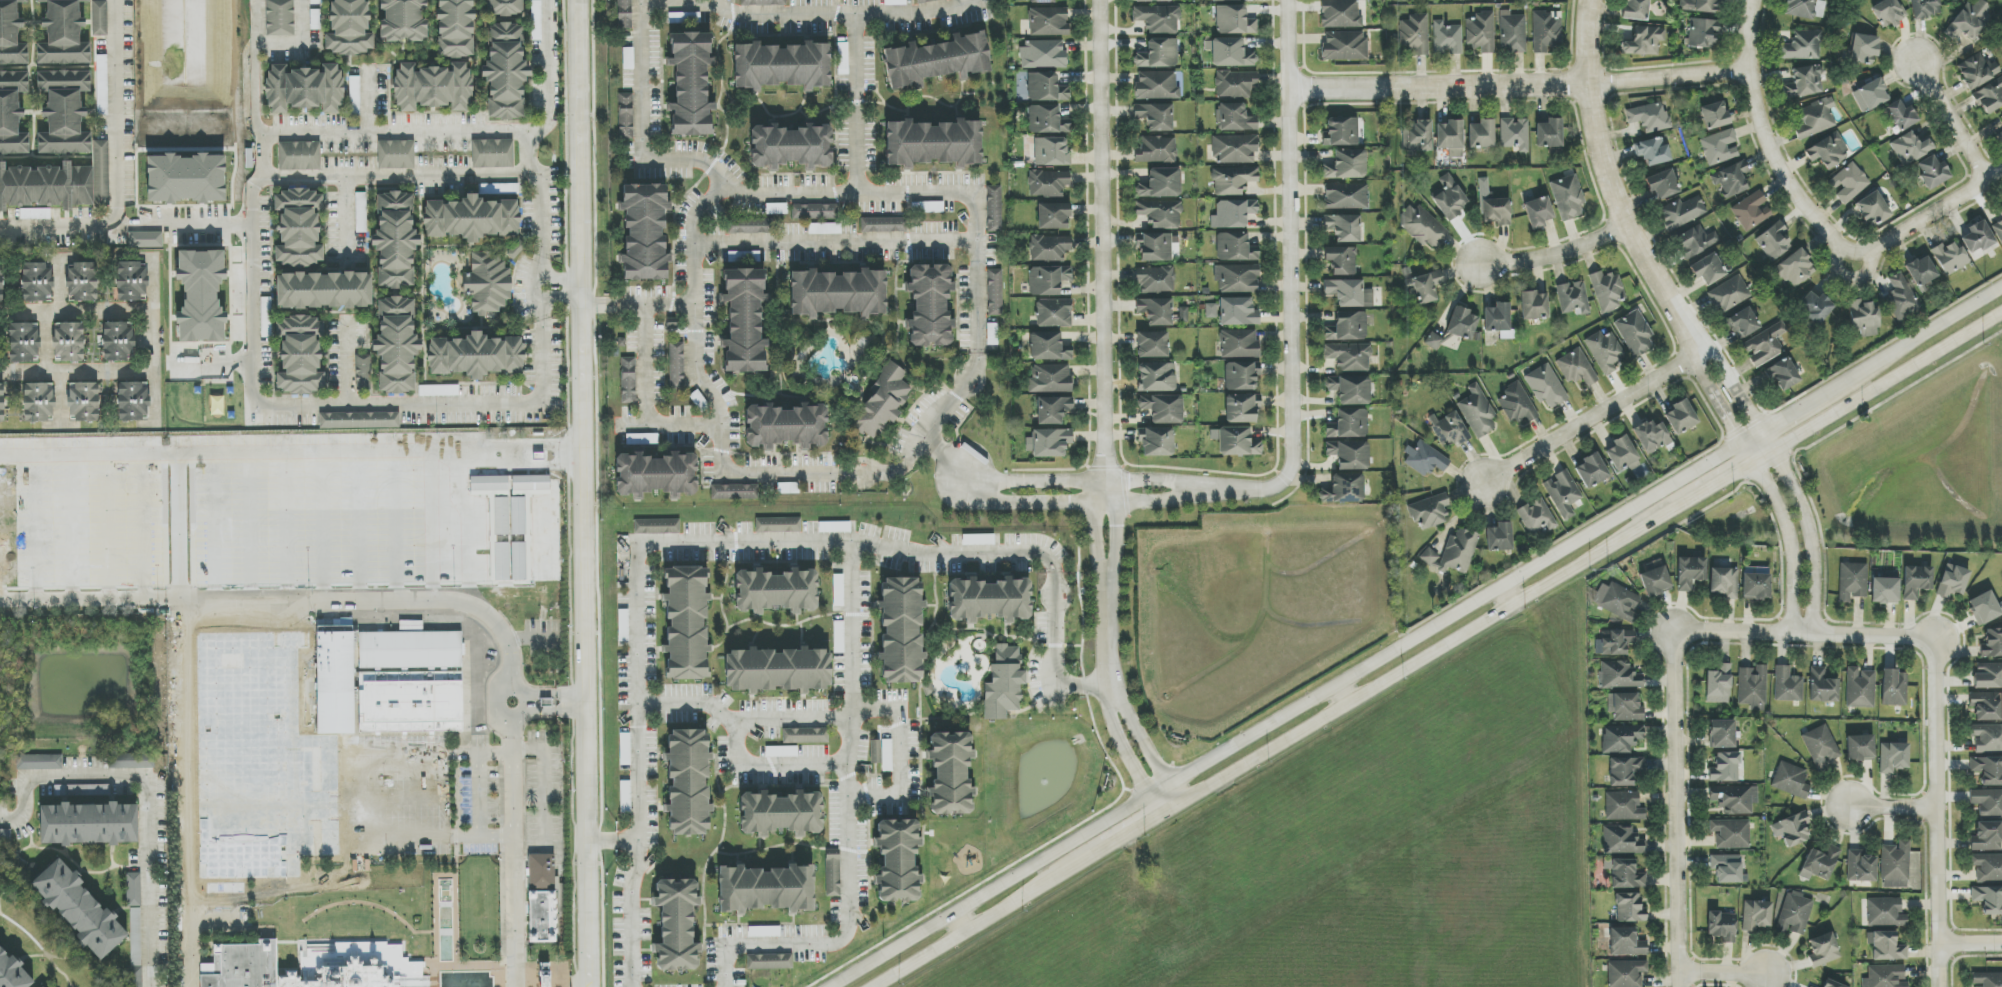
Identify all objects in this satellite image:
building: (1150, 0)
building: (1219, 0)
building: (929, 1)
building: (1042, 1)
building: (895, 2)
building: (763, 3)
building: (1699, 5)
building: (504, 7)
building: (1804, 8)
building: (1925, 8)
building: (1635, 9)
building: (1888, 13)
building: (624, 14)
building: (1340, 14)
road: (838, 16)
building: (99, 18)
building: (280, 18)
building: (683, 18)
building: (1158, 18)
building: (315, 19)
building: (1049, 19)
building: (402, 20)
building: (536, 20)
building: (1234, 20)
building: (1969, 21)
building: (348, 28)
building: (454, 28)
building: (1546, 30)
building: (1480, 33)
building: (1512, 33)
building: (1703, 33)
building: (11, 34)
building: (63, 34)
building: (1415, 34)
building: (1447, 39)
building: (1644, 41)
road: (299, 43)
building: (1802, 46)
building: (1344, 47)
building: (1863, 49)
building: (1044, 53)
building: (1230, 53)
building: (1158, 54)
building: (938, 56)
building: (781, 66)
building: (1976, 71)
building: (505, 72)
building: (1804, 82)
building: (690, 84)
building: (1235, 84)
building: (102, 85)
building: (1045, 85)
building: (1156, 86)
road: (1519, 86)
building: (433, 87)
building: (304, 89)
building: (355, 95)
building: (1870, 95)
building: (1989, 96)
road: (368, 104)
road: (857, 106)
building: (64, 112)
building: (12, 113)
road: (116, 113)
building: (1714, 115)
building: (1901, 115)
road: (1951, 115)
building: (625, 116)
building: (1155, 116)
building: (1045, 117)
building: (1649, 117)
building: (2001, 117)
building: (1235, 118)
building: (1815, 118)
road: (543, 128)
building: (1341, 132)
road: (1764, 132)
building: (1481, 134)
building: (1514, 135)
building: (1550, 135)
road: (331, 136)
building: (1417, 136)
building: (1999, 137)
building: (1451, 138)
building: (933, 139)
building: (790, 147)
building: (1719, 147)
building: (1911, 148)
building: (1234, 149)
building: (1156, 150)
building: (1652, 151)
building: (1827, 151)
building: (1051, 152)
building: (299, 154)
building: (493, 154)
building: (396, 155)
road: (259, 158)
building: (1346, 165)
building: (101, 172)
building: (1932, 172)
building: (1731, 179)
building: (1233, 180)
building: (1048, 183)
building: (1848, 183)
building: (1161, 184)
building: (1662, 184)
building: (46, 186)
building: (508, 189)
road: (955, 196)
building: (1346, 196)
building: (1568, 197)
building: (1449, 198)
road: (1612, 198)
building: (1493, 207)
building: (776, 209)
building: (994, 209)
building: (1872, 209)
building: (1751, 211)
building: (361, 212)
building: (815, 212)
building: (1160, 213)
building: (1233, 213)
building: (1538, 213)
building: (1682, 213)
building: (35, 214)
building: (1053, 216)
building: (471, 218)
road: (347, 221)
building: (298, 225)
building: (883, 225)
road: (125, 226)
building: (750, 226)
building: (1422, 226)
road: (1916, 226)
building: (1998, 226)
building: (1343, 228)
building: (824, 229)
building: (644, 233)
building: (1977, 237)
building: (395, 240)
road: (1290, 241)
building: (1696, 241)
building: (1773, 241)
road: (837, 244)
building: (1154, 247)
building: (1235, 247)
building: (1049, 248)
road: (1554, 254)
building: (743, 257)
building: (1950, 257)
building: (1341, 260)
building: (1707, 269)
building: (1794, 269)
building: (1920, 271)
road: (559, 277)
building: (130, 278)
building: (1236, 278)
building: (1047, 280)
building: (1155, 280)
building: (37, 282)
building: (82, 282)
building: (1, 284)
building: (487, 284)
road: (537, 285)
building: (1427, 286)
building: (324, 287)
building: (1608, 290)
building: (837, 293)
building: (995, 293)
building: (1348, 293)
building: (1729, 294)
building: (1901, 297)
road: (559, 298)
building: (1573, 298)
building: (929, 305)
building: (1534, 305)
road: (637, 307)
building: (1815, 307)
road: (76, 310)
building: (1156, 311)
building: (1233, 312)
building: (1054, 313)
building: (266, 317)
building: (1497, 318)
building: (1863, 318)
building: (744, 321)
road: (694, 323)
building: (1463, 323)
building: (1743, 323)
building: (1349, 327)
building: (1634, 333)
building: (992, 334)
road: (153, 339)
road: (250, 339)
road: (1915, 340)
building: (118, 341)
building: (1434, 341)
building: (68, 342)
building: (24, 343)
road: (1103, 343)
building: (1239, 344)
building: (396, 345)
building: (1152, 345)
building: (1765, 345)
building: (1049, 347)
building: (1605, 351)
building: (300, 355)
building: (475, 356)
building: (1350, 357)
road: (348, 363)
building: (676, 365)
building: (1576, 368)
road: (77, 371)
building: (363, 373)
building: (1783, 375)
building: (1241, 376)
building: (1156, 377)
building: (1050, 378)
building: (628, 380)
road: (1887, 381)
building: (1546, 386)
building: (1350, 389)
building: (439, 391)
road: (645, 398)
building: (884, 401)
building: (2, 402)
building: (38, 402)
building: (84, 402)
building: (133, 402)
building: (1517, 405)
road: (1746, 406)
building: (1162, 408)
building: (1241, 408)
building: (1053, 410)
building: (1478, 412)
road: (1784, 416)
building: (1681, 417)
road: (1728, 418)
building: (359, 420)
road: (1586, 423)
building: (1348, 425)
building: (786, 427)
building: (1450, 431)
building: (1652, 436)
building: (642, 439)
building: (1048, 442)
building: (1156, 442)
building: (1236, 442)
building: (1622, 454)
road: (948, 455)
building: (1349, 455)
road: (1762, 456)
building: (1425, 459)
building: (1591, 470)
building: (655, 475)
building: (488, 483)
building: (530, 483)
building: (1344, 490)
road: (1706, 490)
building: (734, 492)
road: (582, 493)
road: (1124, 493)
building: (1562, 493)
building: (1429, 511)
building: (1536, 515)
building: (501, 516)
building: (518, 516)
building: (778, 525)
building: (657, 526)
building: (834, 527)
building: (1499, 537)
road: (1809, 538)
road: (334, 540)
building: (978, 540)
road: (1789, 545)
road: (927, 552)
building: (1452, 553)
building: (518, 561)
building: (501, 562)
building: (1755, 570)
building: (1690, 572)
building: (1655, 581)
building: (1852, 581)
building: (1916, 581)
building: (1952, 581)
building: (1724, 583)
building: (1755, 586)
building: (1885, 588)
building: (775, 591)
building: (838, 591)
road: (1510, 594)
building: (989, 600)
building: (1619, 602)
building: (1983, 608)
road: (297, 613)
building: (686, 623)
building: (623, 626)
building: (901, 631)
road: (1804, 636)
building: (1616, 642)
building: (1992, 644)
building: (410, 650)
road: (1414, 664)
building: (777, 670)
building: (1618, 675)
building: (1987, 676)
building: (335, 678)
building: (1004, 683)
building: (1787, 685)
building: (1822, 686)
building: (1752, 687)
building: (1718, 688)
building: (1860, 688)
building: (1893, 688)
road: (547, 693)
road: (1341, 695)
building: (410, 702)
building: (1986, 706)
building: (1625, 707)
road: (547, 712)
road: (1285, 716)
road: (743, 720)
building: (1721, 734)
building: (805, 736)
road: (1139, 737)
building: (1621, 738)
building: (1987, 738)
road: (1121, 745)
building: (1820, 747)
building: (1860, 747)
road: (899, 751)
building: (781, 752)
building: (881, 754)
road: (325, 757)
building: (1893, 757)
building: (131, 761)
building: (39, 762)
road: (638, 767)
road: (772, 767)
building: (1725, 767)
building: (1987, 770)
building: (1624, 771)
building: (950, 774)
road: (545, 779)
road: (62, 780)
building: (1791, 780)
building: (688, 782)
building: (82, 790)
building: (1734, 799)
road: (1162, 802)
building: (1987, 802)
building: (1623, 806)
road: (1884, 806)
road: (1678, 809)
building: (780, 813)
road: (1937, 815)
road: (852, 819)
building: (89, 824)
building: (1791, 830)
building: (1731, 834)
building: (5, 835)
building: (1987, 837)
road: (351, 838)
road: (612, 840)
road: (1119, 840)
building: (1621, 840)
building: (897, 860)
building: (1819, 863)
building: (1895, 865)
building: (1860, 867)
building: (1726, 868)
building: (1987, 868)
building: (541, 871)
building: (1625, 874)
building: (833, 875)
road: (148, 884)
building: (134, 889)
building: (766, 889)
building: (1988, 899)
building: (1630, 908)
building: (79, 909)
building: (1885, 913)
building: (1756, 915)
building: (1794, 915)
building: (542, 917)
road: (961, 922)
building: (676, 925)
building: (1722, 926)
road: (973, 927)
building: (764, 932)
building: (1626, 943)
road: (1971, 945)
building: (1886, 946)
building: (135, 947)
building: (1823, 950)
building: (770, 962)
building: (313, 966)
building: (12, 973)
building: (1625, 973)
road: (1723, 976)
building: (1885, 976)
building: (1987, 979)
building: (1831, 984)
building: (50, 986)
building: (1809, 986)

